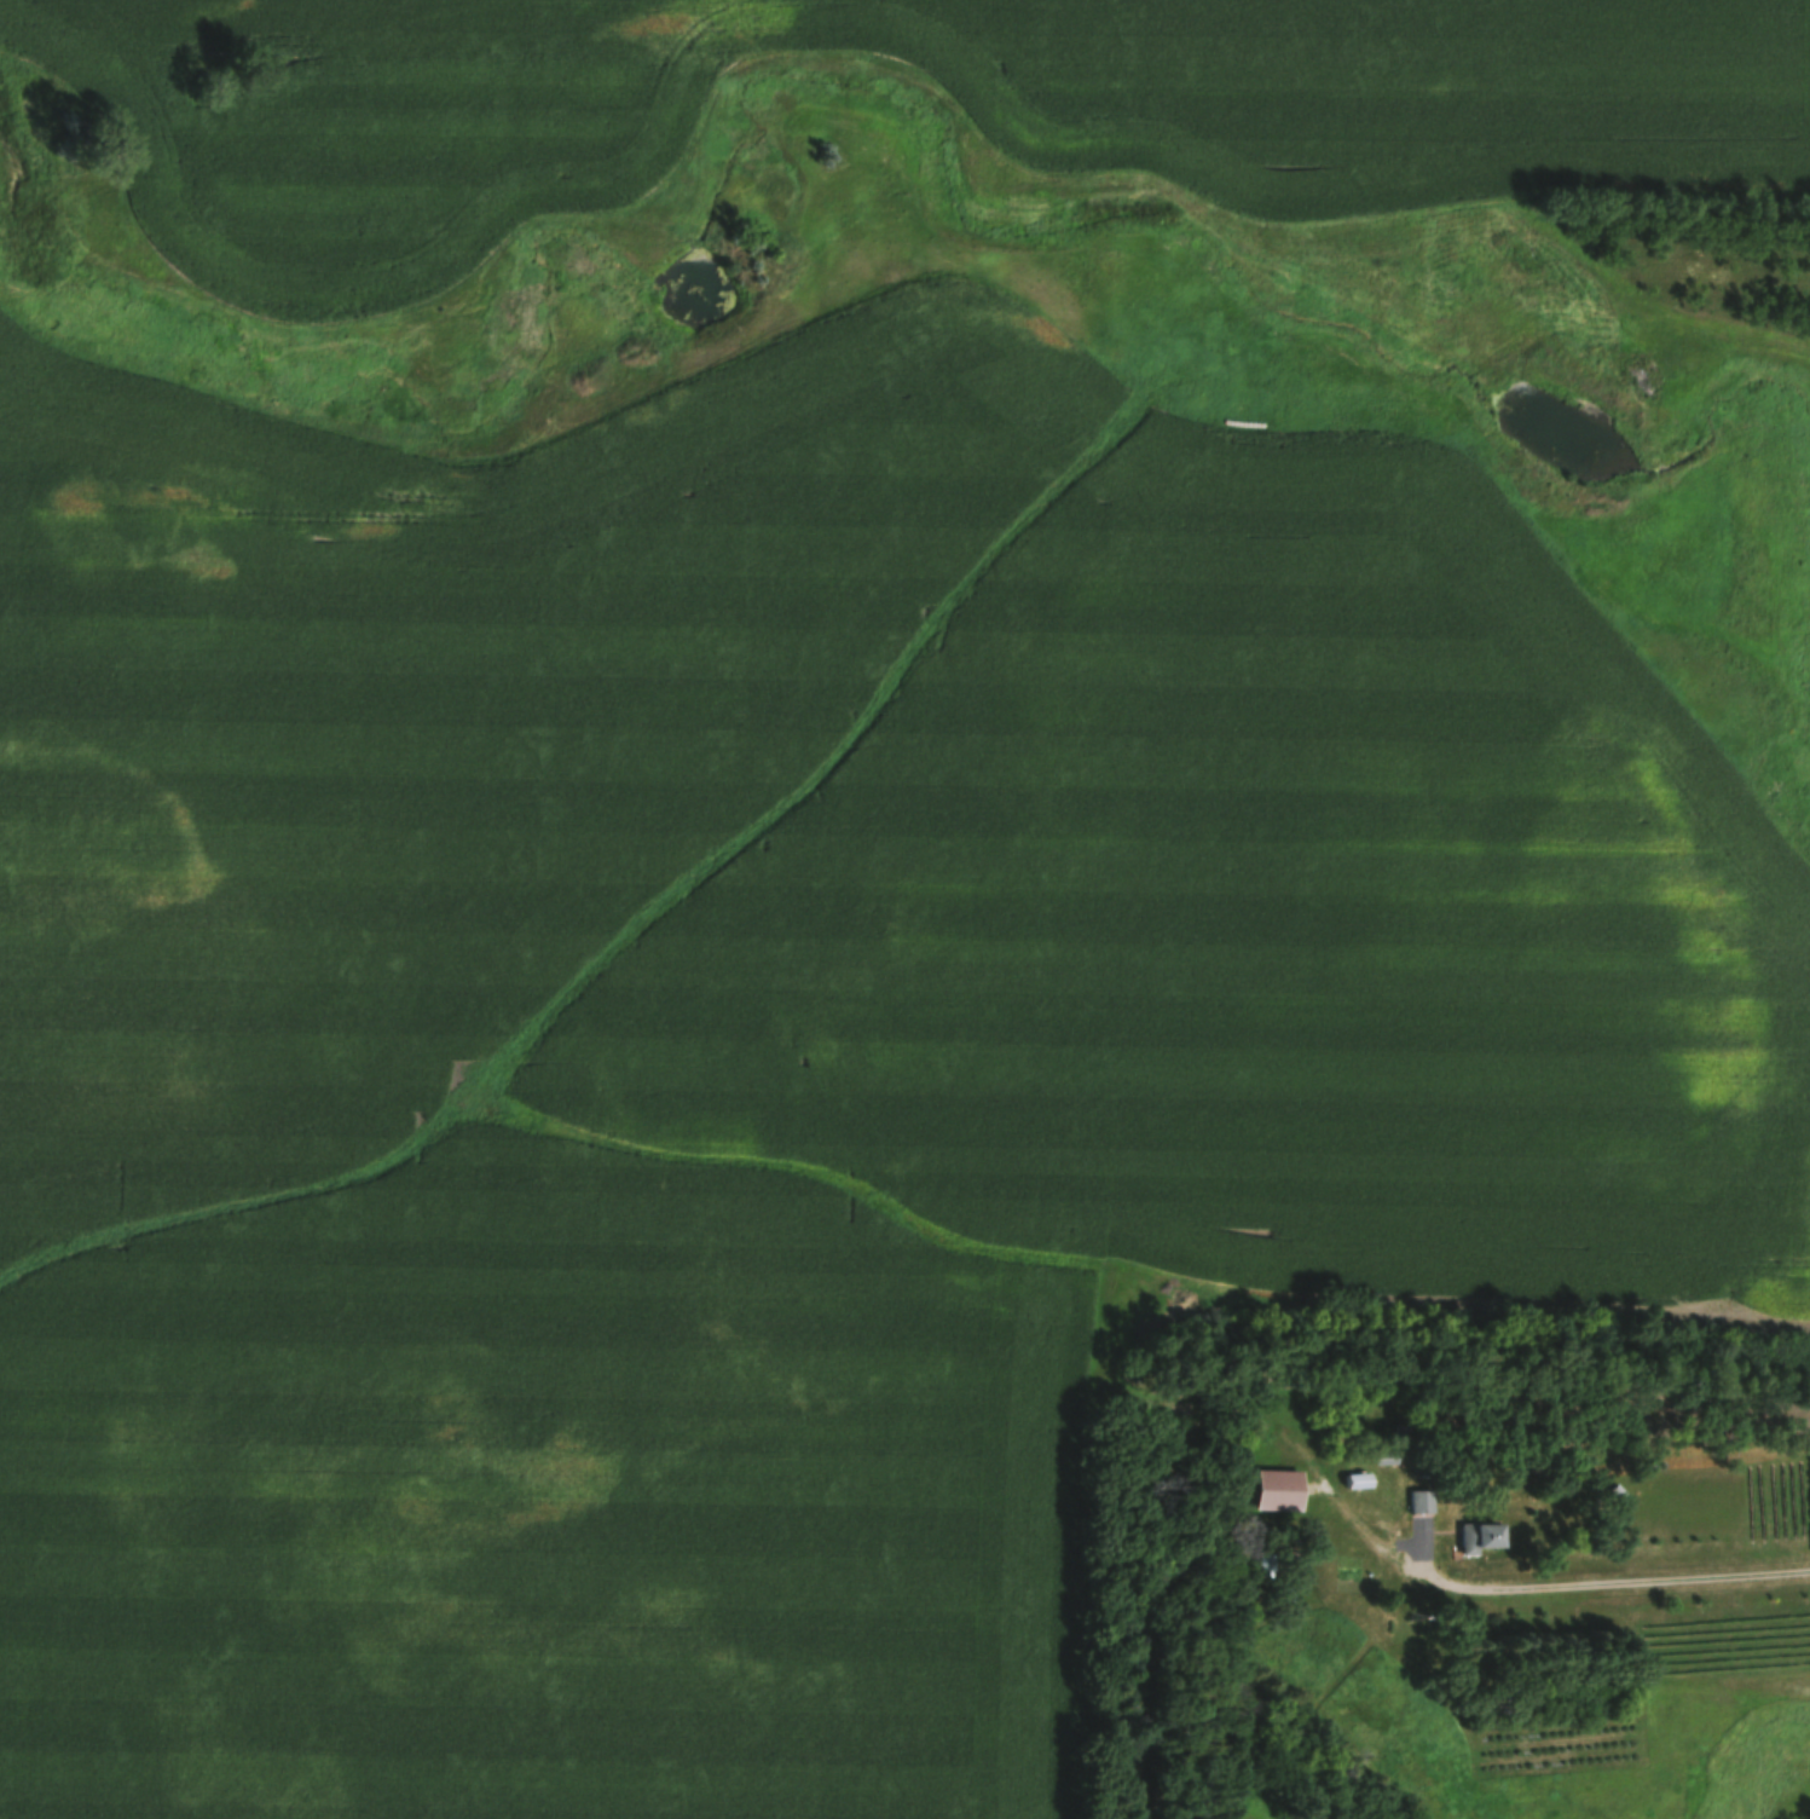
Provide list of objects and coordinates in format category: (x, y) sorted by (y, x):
building: (1388, 1459)
building: (1359, 1483)
building: (1282, 1492)
building: (1422, 1503)
building: (1482, 1540)
road: (1546, 1573)

